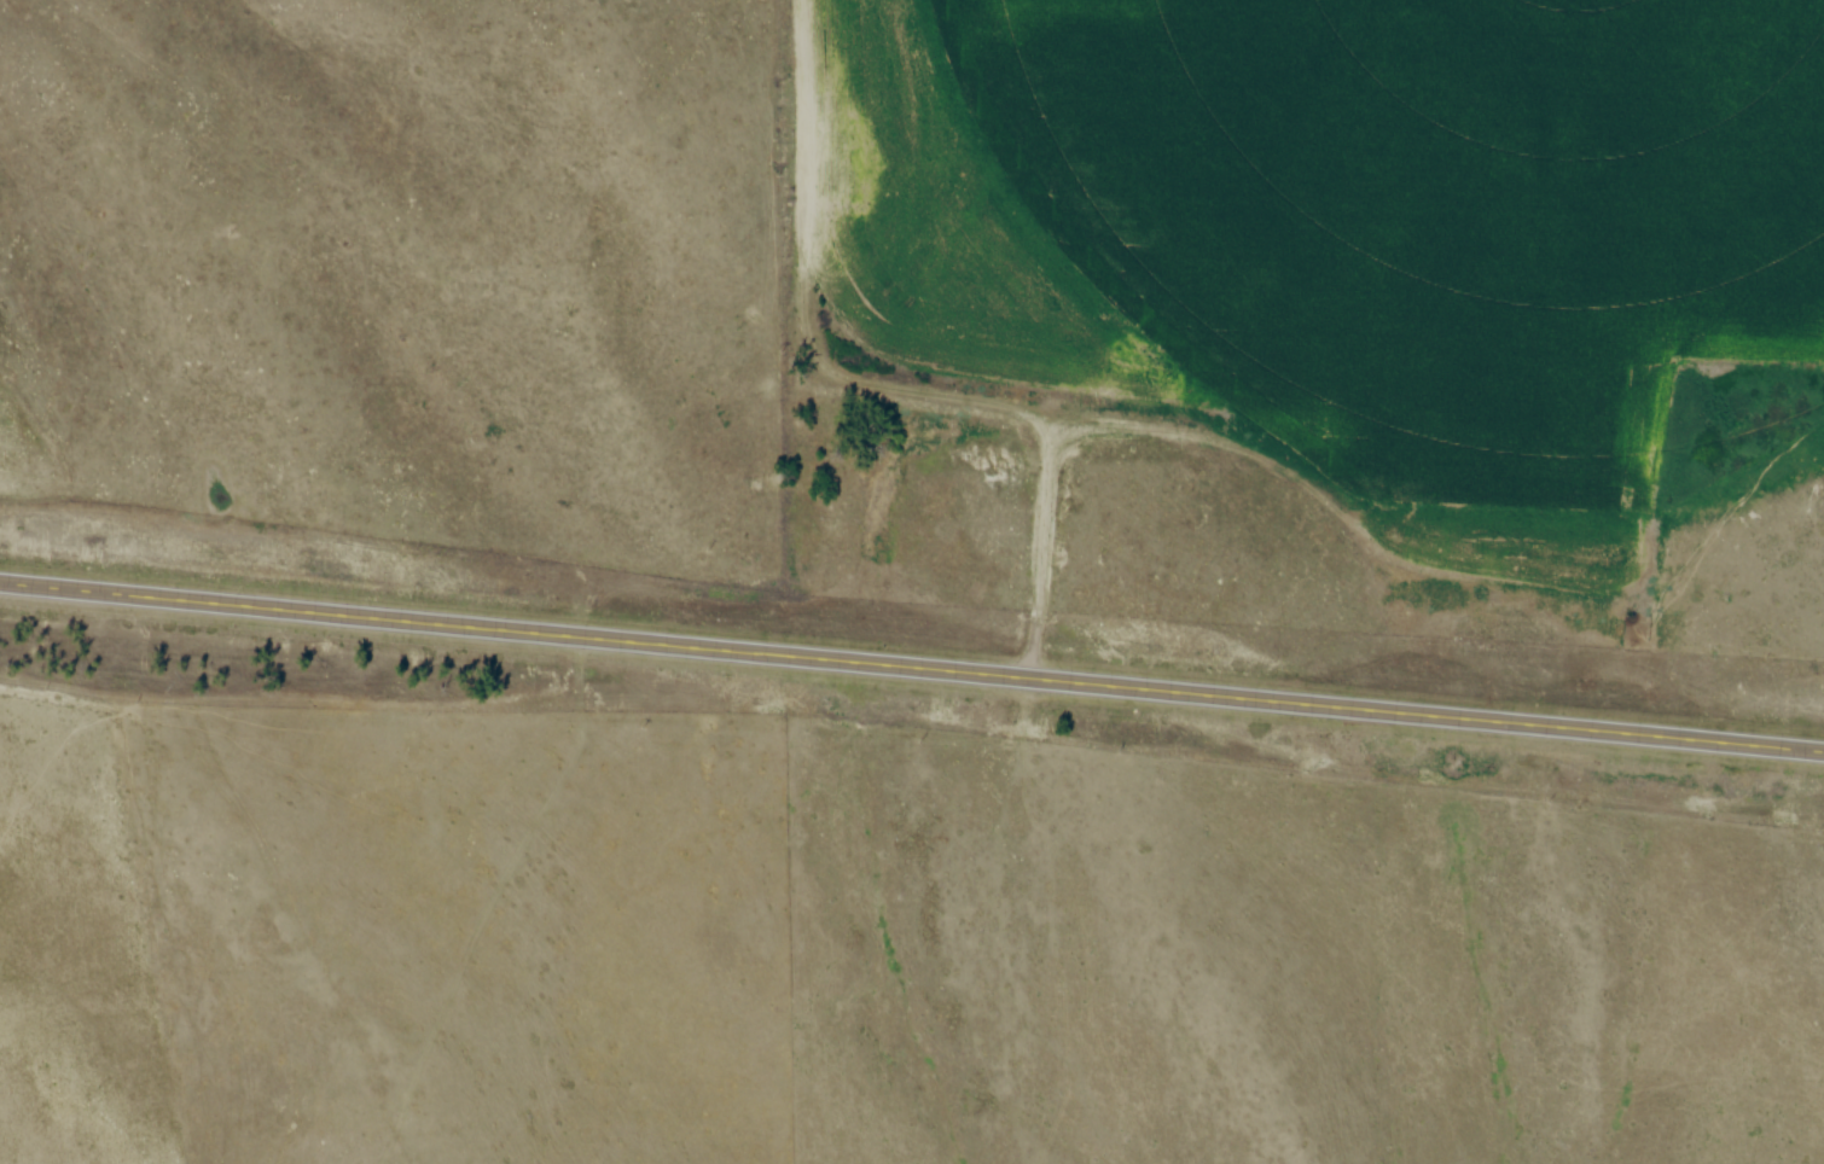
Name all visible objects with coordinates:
road: (912, 670)

